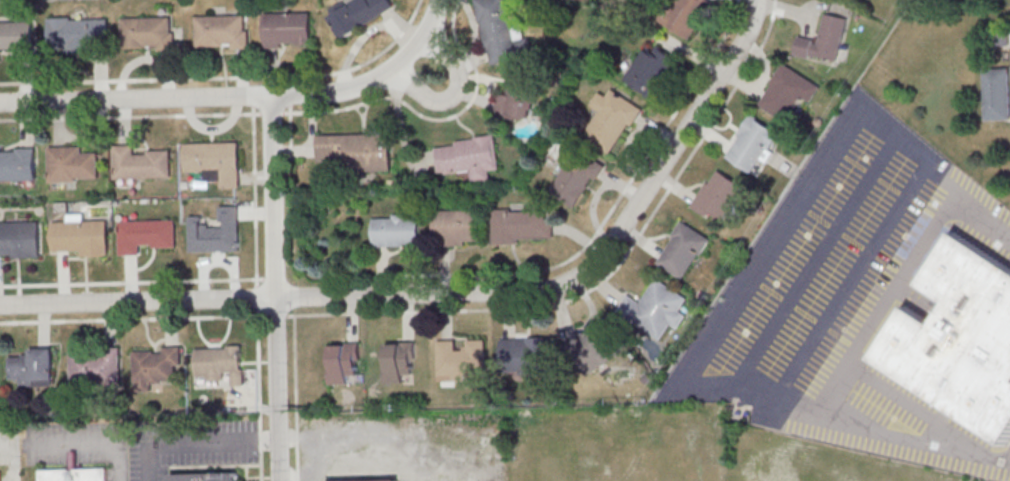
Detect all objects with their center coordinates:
building: (357, 14)
building: (686, 16)
building: (283, 30)
building: (145, 32)
building: (217, 32)
building: (502, 32)
building: (75, 35)
building: (11, 36)
building: (824, 40)
building: (651, 69)
road: (225, 76)
road: (373, 79)
building: (788, 91)
building: (998, 93)
road: (451, 94)
building: (519, 97)
road: (134, 98)
road: (252, 100)
road: (296, 112)
building: (611, 120)
building: (752, 144)
building: (356, 150)
building: (468, 157)
building: (215, 161)
building: (140, 163)
building: (16, 164)
building: (72, 164)
building: (577, 177)
road: (254, 194)
building: (717, 196)
road: (612, 205)
building: (521, 225)
building: (458, 226)
building: (396, 230)
building: (216, 232)
building: (145, 234)
building: (81, 236)
building: (16, 239)
building: (683, 250)
road: (811, 266)
road: (605, 276)
road: (269, 278)
road: (131, 281)
road: (848, 285)
road: (276, 288)
road: (455, 292)
road: (256, 295)
road: (884, 302)
building: (655, 308)
road: (730, 309)
road: (275, 315)
road: (132, 319)
building: (960, 339)
building: (594, 349)
building: (522, 354)
building: (222, 361)
building: (399, 361)
building: (458, 361)
building: (344, 362)
building: (155, 366)
building: (34, 367)
building: (95, 367)
road: (258, 393)
road: (296, 398)
road: (925, 417)
road: (90, 440)
road: (196, 442)
road: (12, 456)
building: (72, 475)
building: (1, 476)
building: (203, 477)
building: (370, 480)

